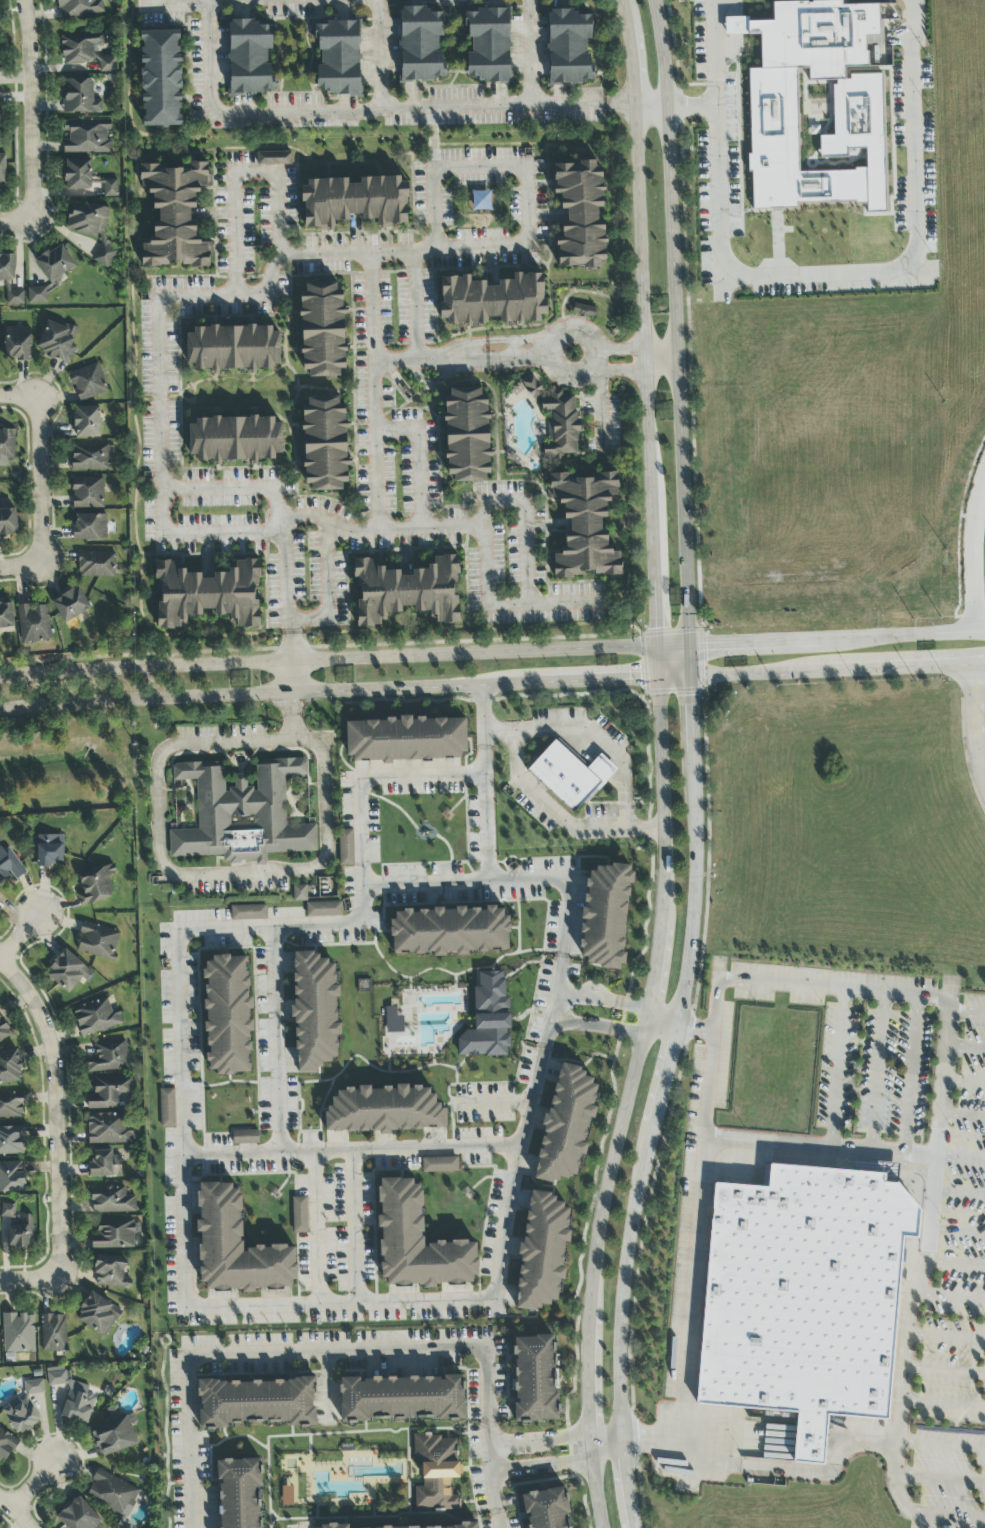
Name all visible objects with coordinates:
building: (78, 8)
building: (421, 44)
building: (487, 45)
building: (568, 48)
building: (86, 50)
road: (531, 53)
road: (379, 54)
building: (250, 58)
building: (338, 58)
building: (160, 78)
building: (79, 97)
road: (693, 101)
road: (652, 102)
building: (815, 105)
road: (31, 106)
road: (371, 108)
building: (86, 137)
road: (435, 137)
building: (273, 159)
road: (480, 165)
building: (2, 170)
road: (256, 171)
building: (77, 175)
building: (110, 188)
building: (354, 202)
road: (527, 205)
road: (433, 209)
road: (15, 214)
building: (175, 215)
road: (279, 215)
building: (92, 228)
road: (234, 233)
building: (55, 264)
road: (818, 267)
building: (7, 268)
road: (235, 294)
building: (37, 295)
building: (15, 298)
building: (492, 300)
road: (415, 305)
building: (583, 311)
road: (645, 320)
road: (673, 321)
building: (322, 331)
building: (58, 341)
building: (17, 343)
building: (233, 348)
road: (621, 348)
road: (546, 355)
road: (459, 356)
road: (660, 358)
road: (618, 370)
building: (88, 382)
building: (531, 387)
road: (372, 391)
road: (21, 394)
road: (600, 406)
building: (87, 422)
building: (560, 425)
building: (466, 435)
building: (234, 439)
building: (324, 443)
building: (6, 446)
road: (419, 453)
building: (91, 457)
road: (43, 477)
road: (219, 488)
building: (87, 493)
road: (503, 498)
building: (8, 522)
building: (584, 524)
building: (89, 527)
road: (381, 527)
road: (221, 533)
road: (526, 550)
road: (974, 550)
road: (485, 551)
road: (23, 564)
building: (96, 564)
road: (326, 568)
road: (282, 573)
building: (406, 591)
building: (207, 594)
road: (543, 602)
building: (71, 605)
building: (6, 616)
road: (306, 616)
building: (33, 623)
road: (981, 628)
traffic signals: (658, 629)
road: (981, 630)
road: (894, 633)
road: (749, 639)
traffic signals: (704, 642)
road: (674, 643)
road: (472, 651)
road: (862, 657)
road: (143, 666)
road: (981, 666)
road: (288, 675)
traffic signals: (636, 676)
road: (488, 682)
traffic signals: (693, 699)
road: (484, 715)
road: (974, 723)
building: (406, 739)
building: (569, 776)
road: (625, 811)
building: (241, 815)
road: (646, 830)
building: (345, 847)
building: (50, 850)
building: (9, 865)
road: (216, 875)
road: (517, 878)
road: (425, 882)
building: (95, 885)
building: (299, 893)
building: (323, 909)
building: (248, 913)
building: (605, 917)
building: (450, 931)
road: (22, 934)
building: (97, 942)
road: (1, 955)
building: (67, 972)
road: (820, 984)
road: (550, 1002)
road: (602, 1003)
building: (315, 1011)
building: (227, 1016)
building: (96, 1017)
building: (488, 1019)
building: (392, 1021)
road: (597, 1025)
road: (663, 1025)
building: (3, 1031)
road: (967, 1048)
building: (109, 1057)
road: (837, 1066)
building: (9, 1068)
road: (877, 1070)
road: (911, 1072)
road: (965, 1084)
road: (632, 1086)
road: (275, 1087)
road: (668, 1087)
building: (111, 1093)
road: (496, 1104)
building: (11, 1105)
building: (167, 1108)
road: (62, 1109)
building: (384, 1110)
road: (964, 1116)
building: (566, 1124)
building: (108, 1129)
building: (245, 1137)
building: (12, 1141)
road: (766, 1143)
road: (398, 1149)
road: (962, 1156)
road: (182, 1162)
building: (105, 1165)
building: (439, 1165)
building: (12, 1177)
building: (111, 1200)
building: (299, 1215)
road: (354, 1226)
building: (17, 1227)
road: (316, 1227)
building: (114, 1234)
building: (417, 1242)
building: (236, 1247)
building: (542, 1252)
building: (110, 1272)
road: (29, 1280)
building: (804, 1299)
road: (911, 1303)
building: (98, 1315)
road: (688, 1316)
building: (18, 1333)
building: (54, 1333)
road: (268, 1351)
building: (534, 1380)
building: (72, 1396)
building: (403, 1398)
building: (256, 1403)
road: (488, 1405)
building: (23, 1408)
road: (542, 1440)
building: (6, 1446)
road: (608, 1446)
road: (544, 1466)
road: (491, 1468)
building: (436, 1472)
road: (790, 1472)
road: (37, 1486)
building: (240, 1493)
building: (112, 1494)
building: (287, 1496)
road: (8, 1505)
building: (546, 1509)
building: (78, 1516)
road: (24, 1520)
road: (496, 1521)
building: (334, 1526)
building: (440, 1527)

